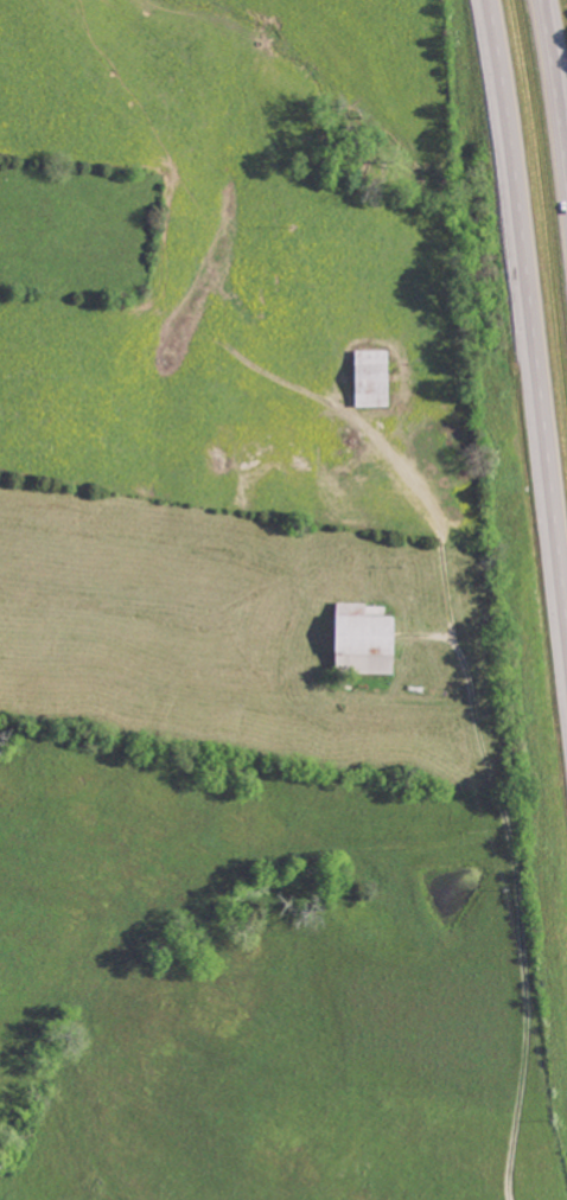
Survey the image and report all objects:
road: (555, 100)
crop: (78, 230)
road: (530, 312)
building: (374, 376)
road: (504, 810)

